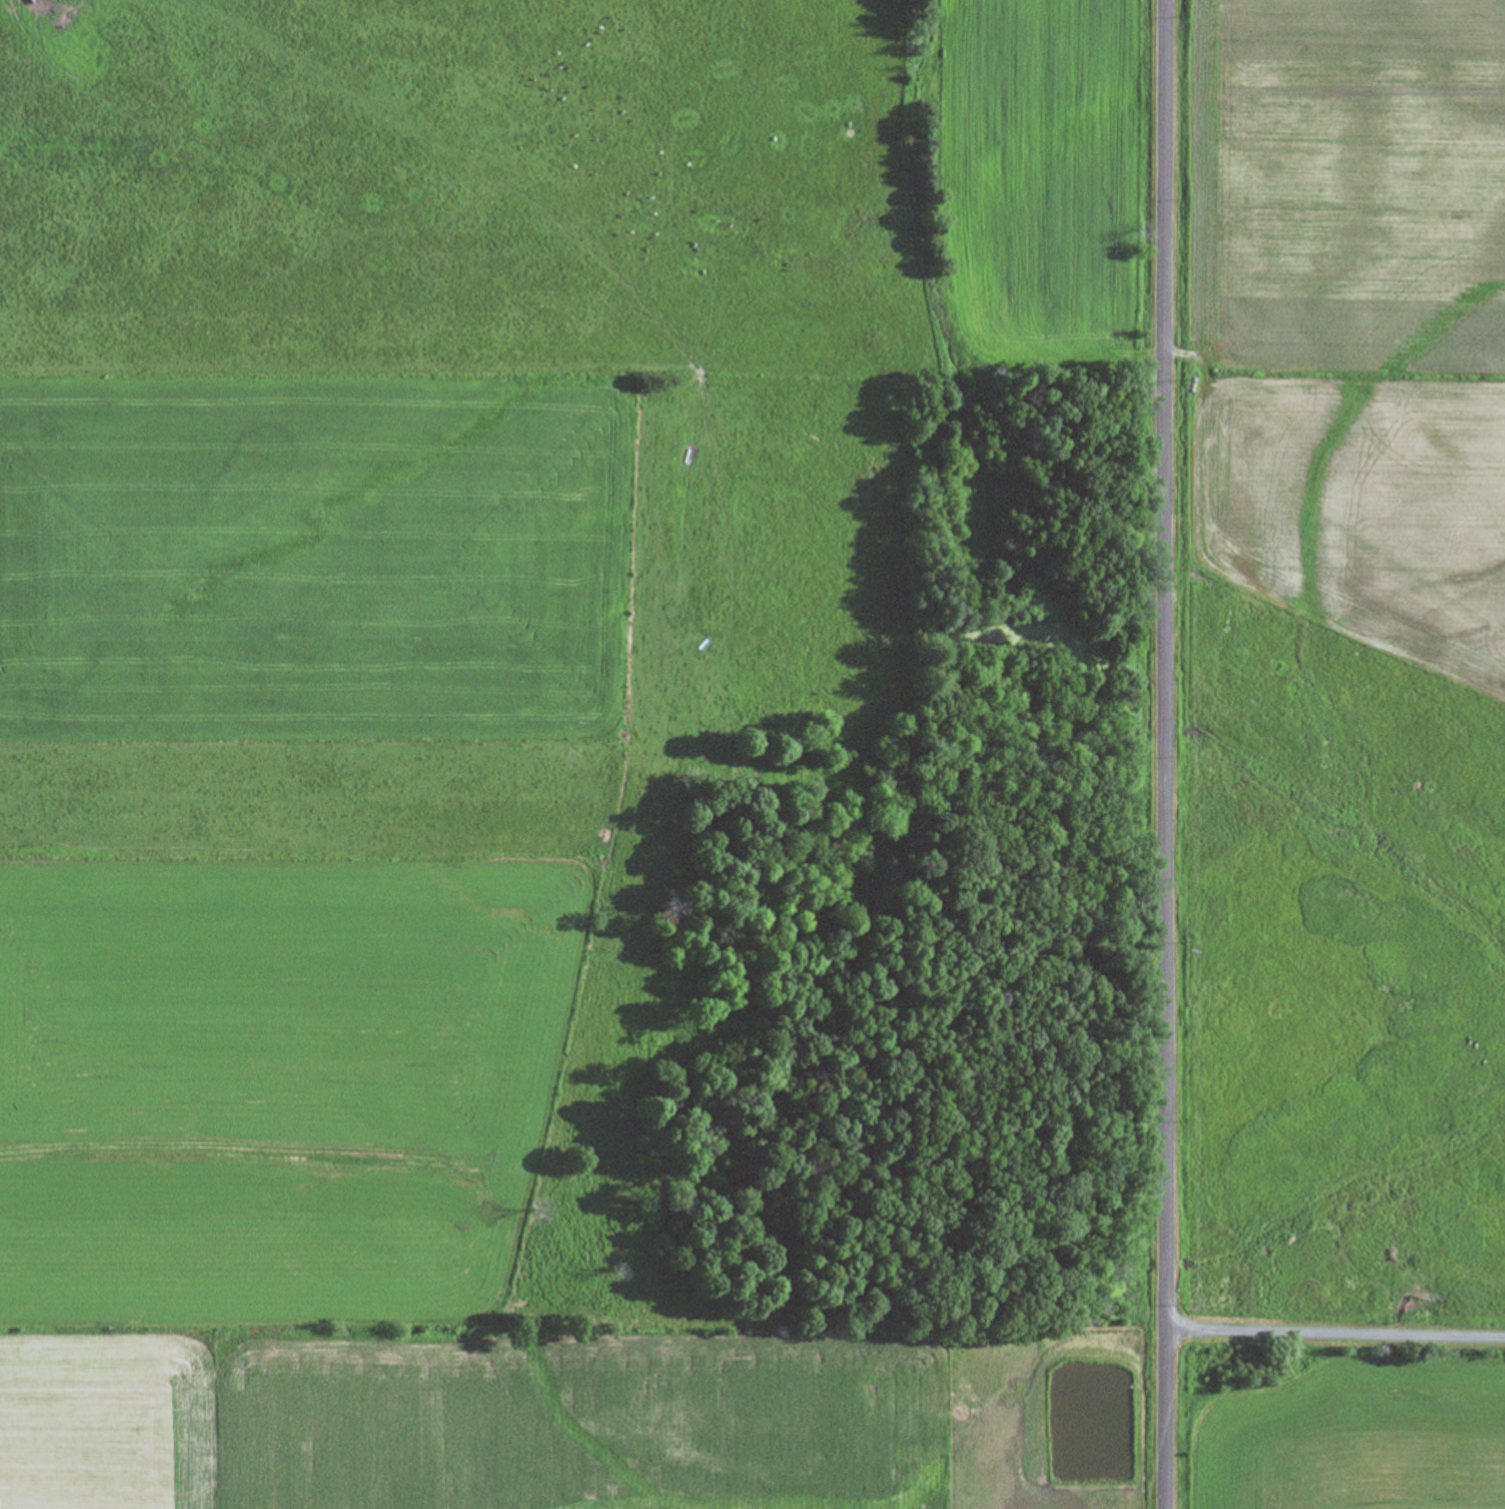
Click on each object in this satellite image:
road: (1164, 754)
road: (1335, 1335)

